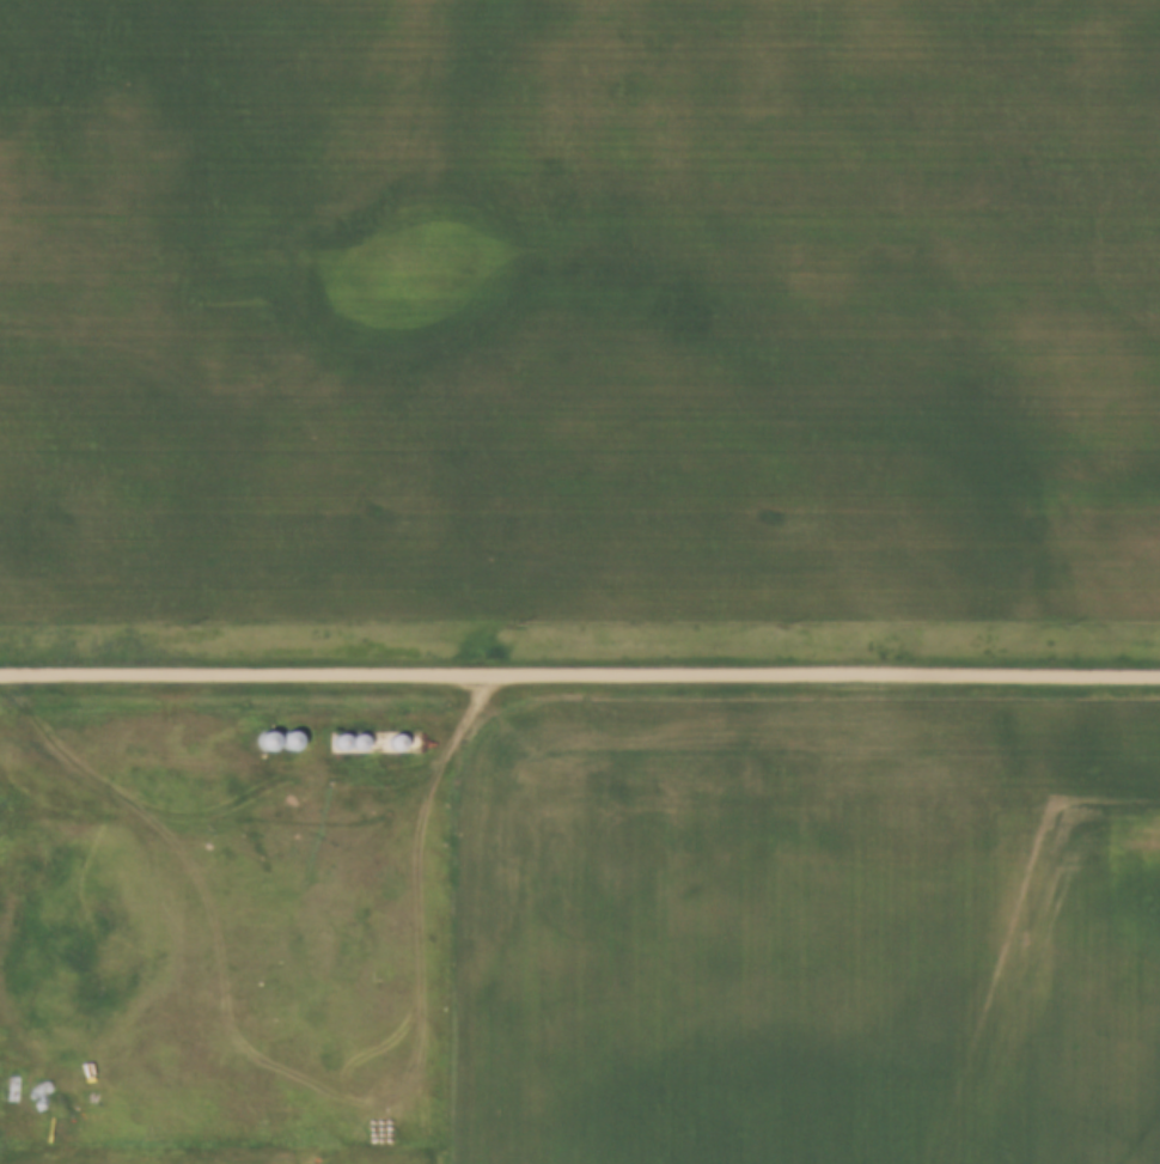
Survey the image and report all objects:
road: (579, 677)
building: (260, 732)
silo: (260, 732)
building: (282, 732)
silo: (282, 732)
building: (334, 733)
silo: (334, 733)
building: (350, 733)
silo: (350, 733)
building: (389, 733)
silo: (389, 733)
road: (276, 774)

